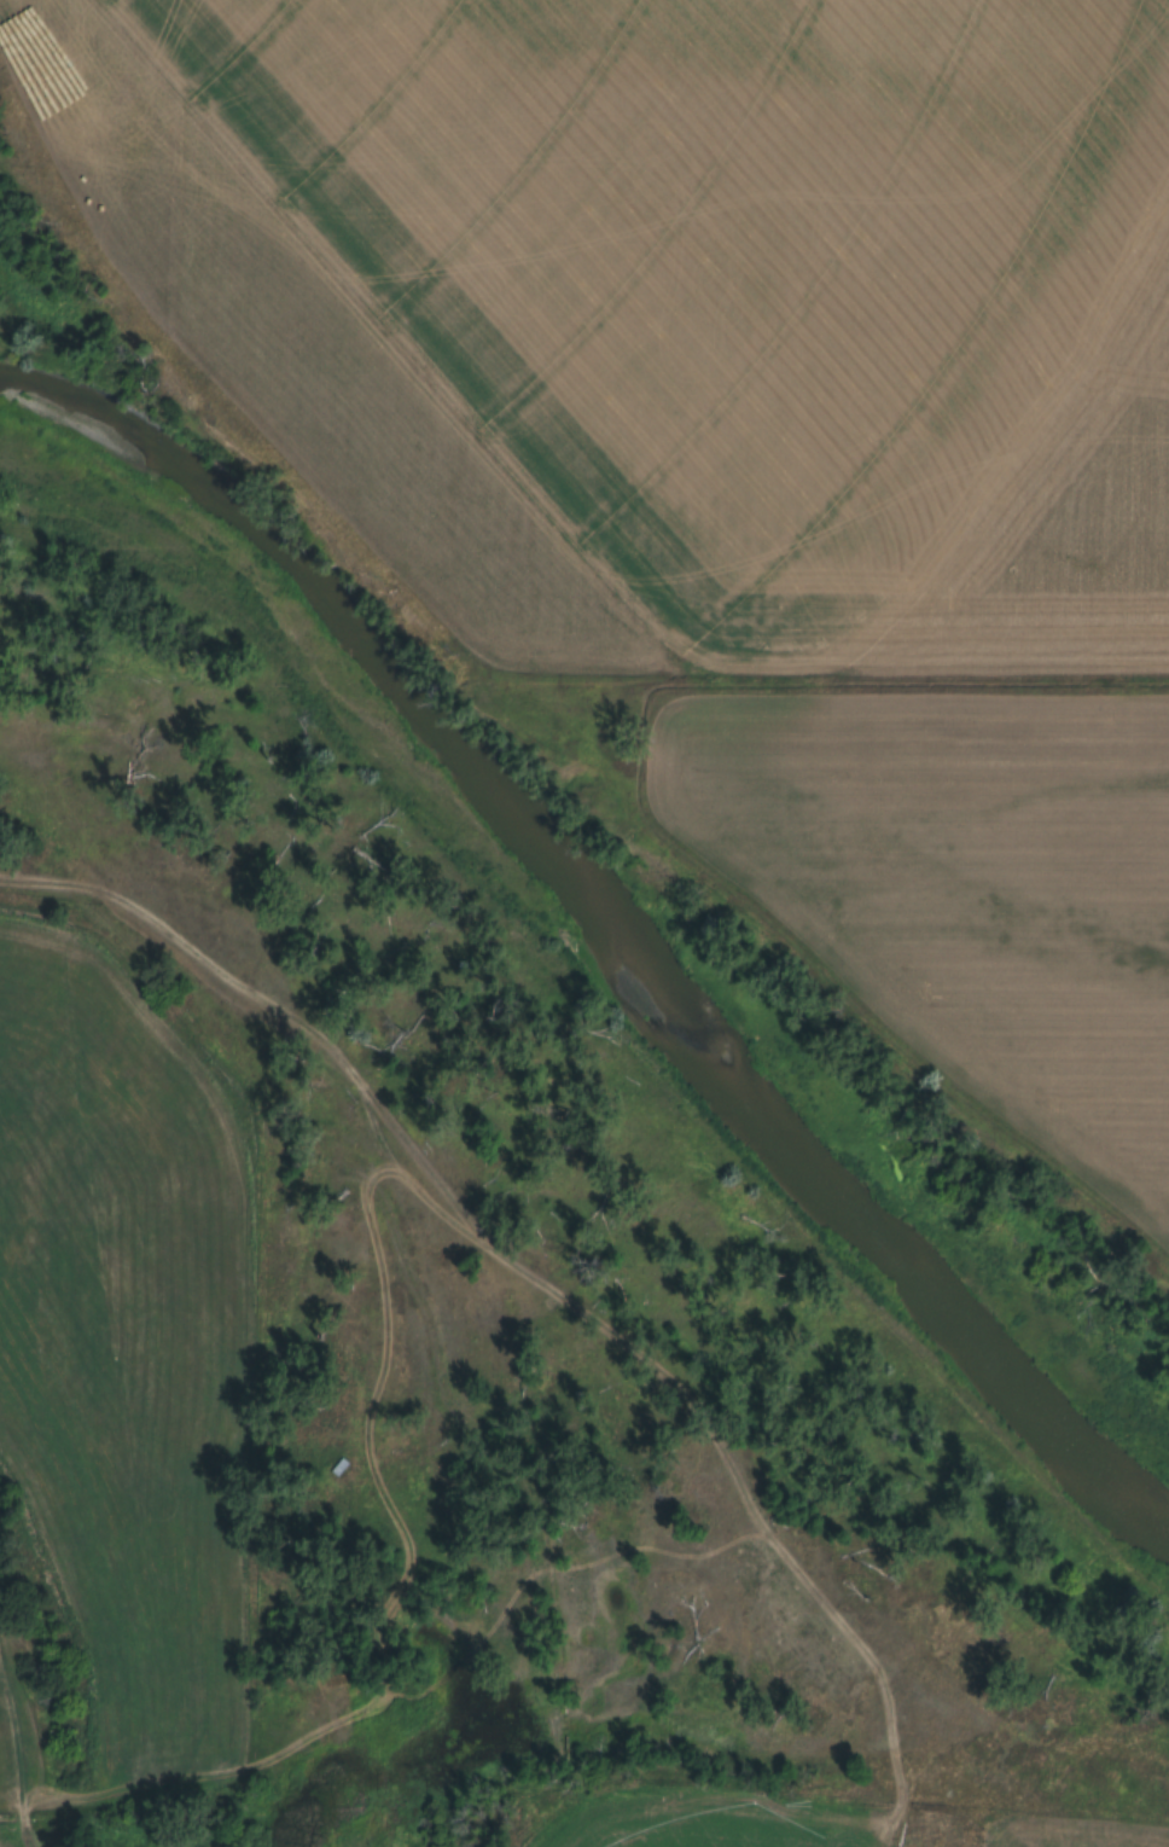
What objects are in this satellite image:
river: (593, 934)

